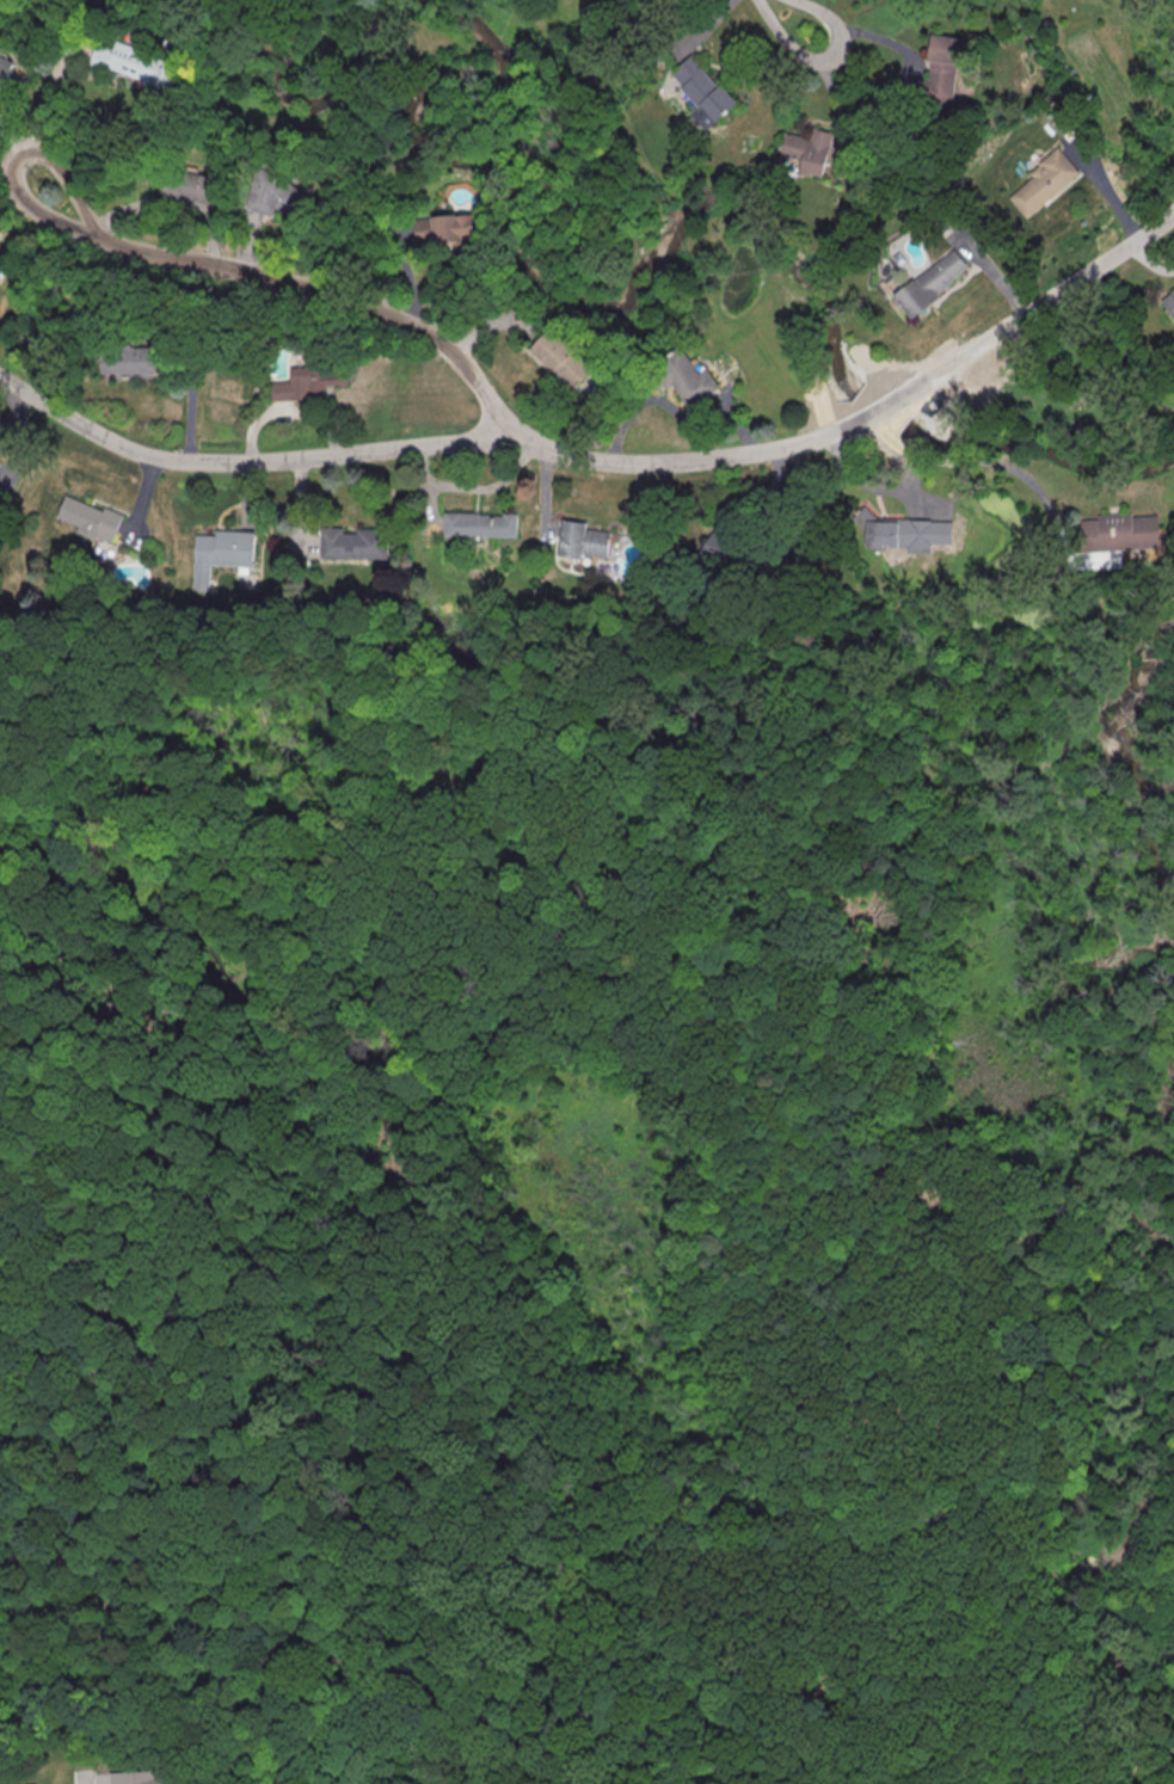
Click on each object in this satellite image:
road: (793, 17)
building: (134, 62)
building: (4, 69)
building: (940, 70)
building: (701, 91)
road: (49, 94)
river: (293, 101)
road: (6, 134)
road: (38, 140)
building: (809, 149)
building: (1041, 183)
building: (184, 185)
river: (669, 219)
building: (447, 228)
building: (2, 262)
building: (930, 282)
road: (1052, 297)
road: (367, 300)
building: (1169, 301)
building: (564, 357)
building: (134, 362)
building: (687, 376)
road: (884, 406)
road: (413, 447)
road: (938, 462)
building: (90, 518)
building: (482, 524)
building: (1114, 535)
building: (586, 540)
building: (354, 542)
building: (717, 547)
building: (221, 553)
river: (1129, 745)
road: (634, 820)
road: (1166, 830)
river: (1061, 982)
road: (786, 1174)
river: (1124, 1174)
park: (596, 1186)
road: (1164, 1431)
road: (984, 1489)
road: (760, 1501)
river: (1098, 1524)
road: (1019, 1532)
road: (1014, 1557)
road: (102, 1623)
road: (933, 1635)
road: (1058, 1672)
road: (520, 1706)
river: (1150, 1764)
building: (141, 1777)
road: (84, 1779)

